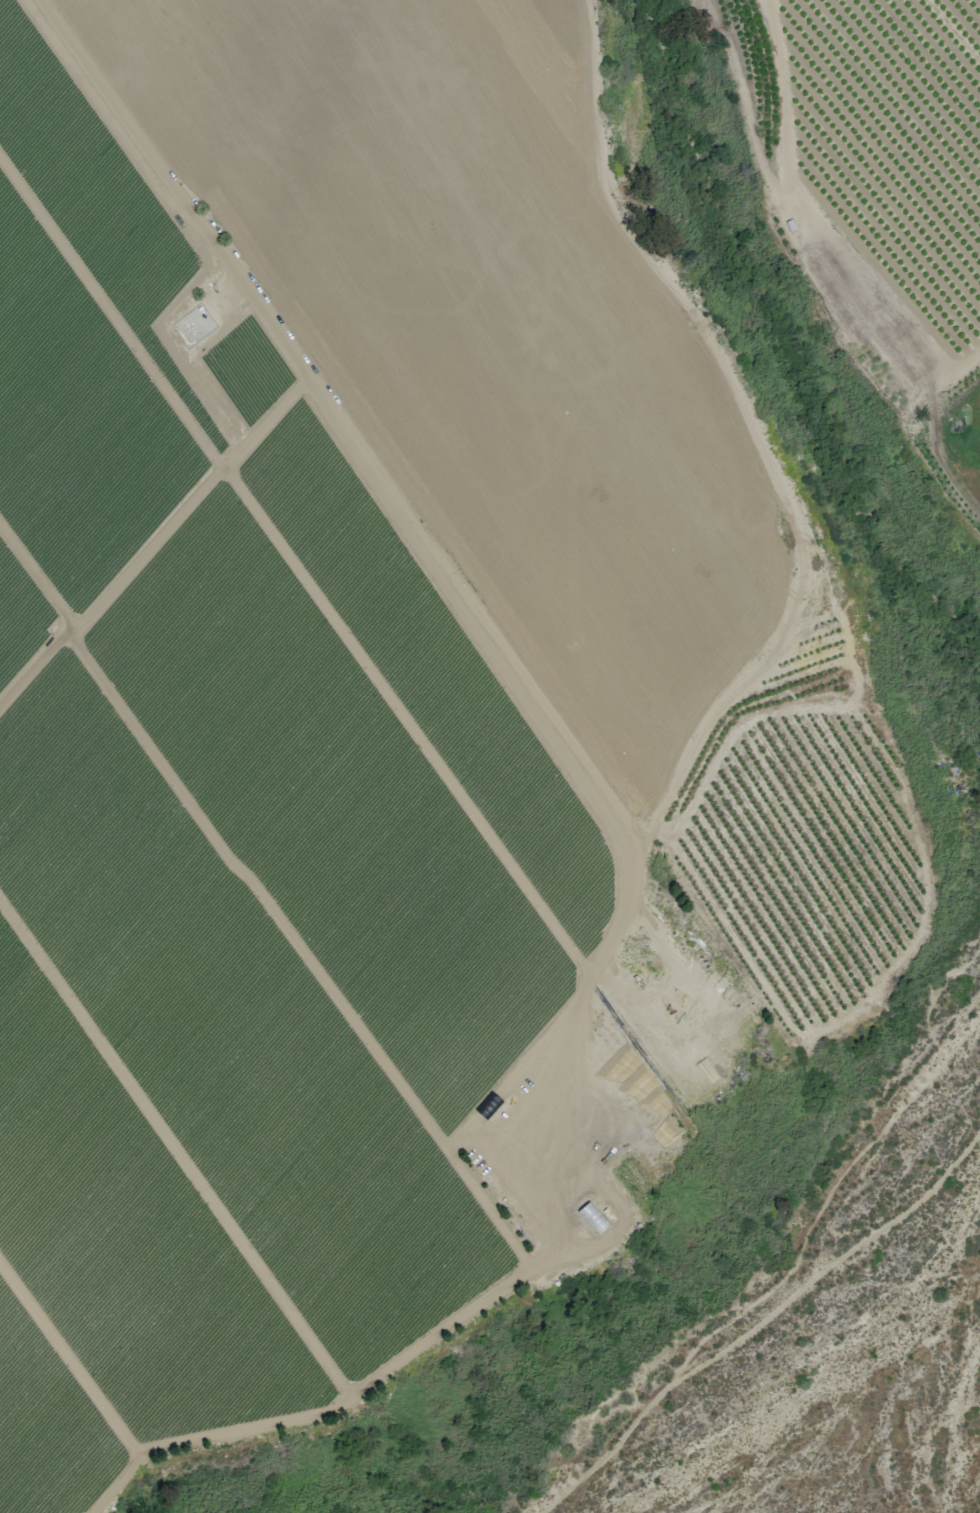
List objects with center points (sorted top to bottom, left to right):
crop: (361, 714)

